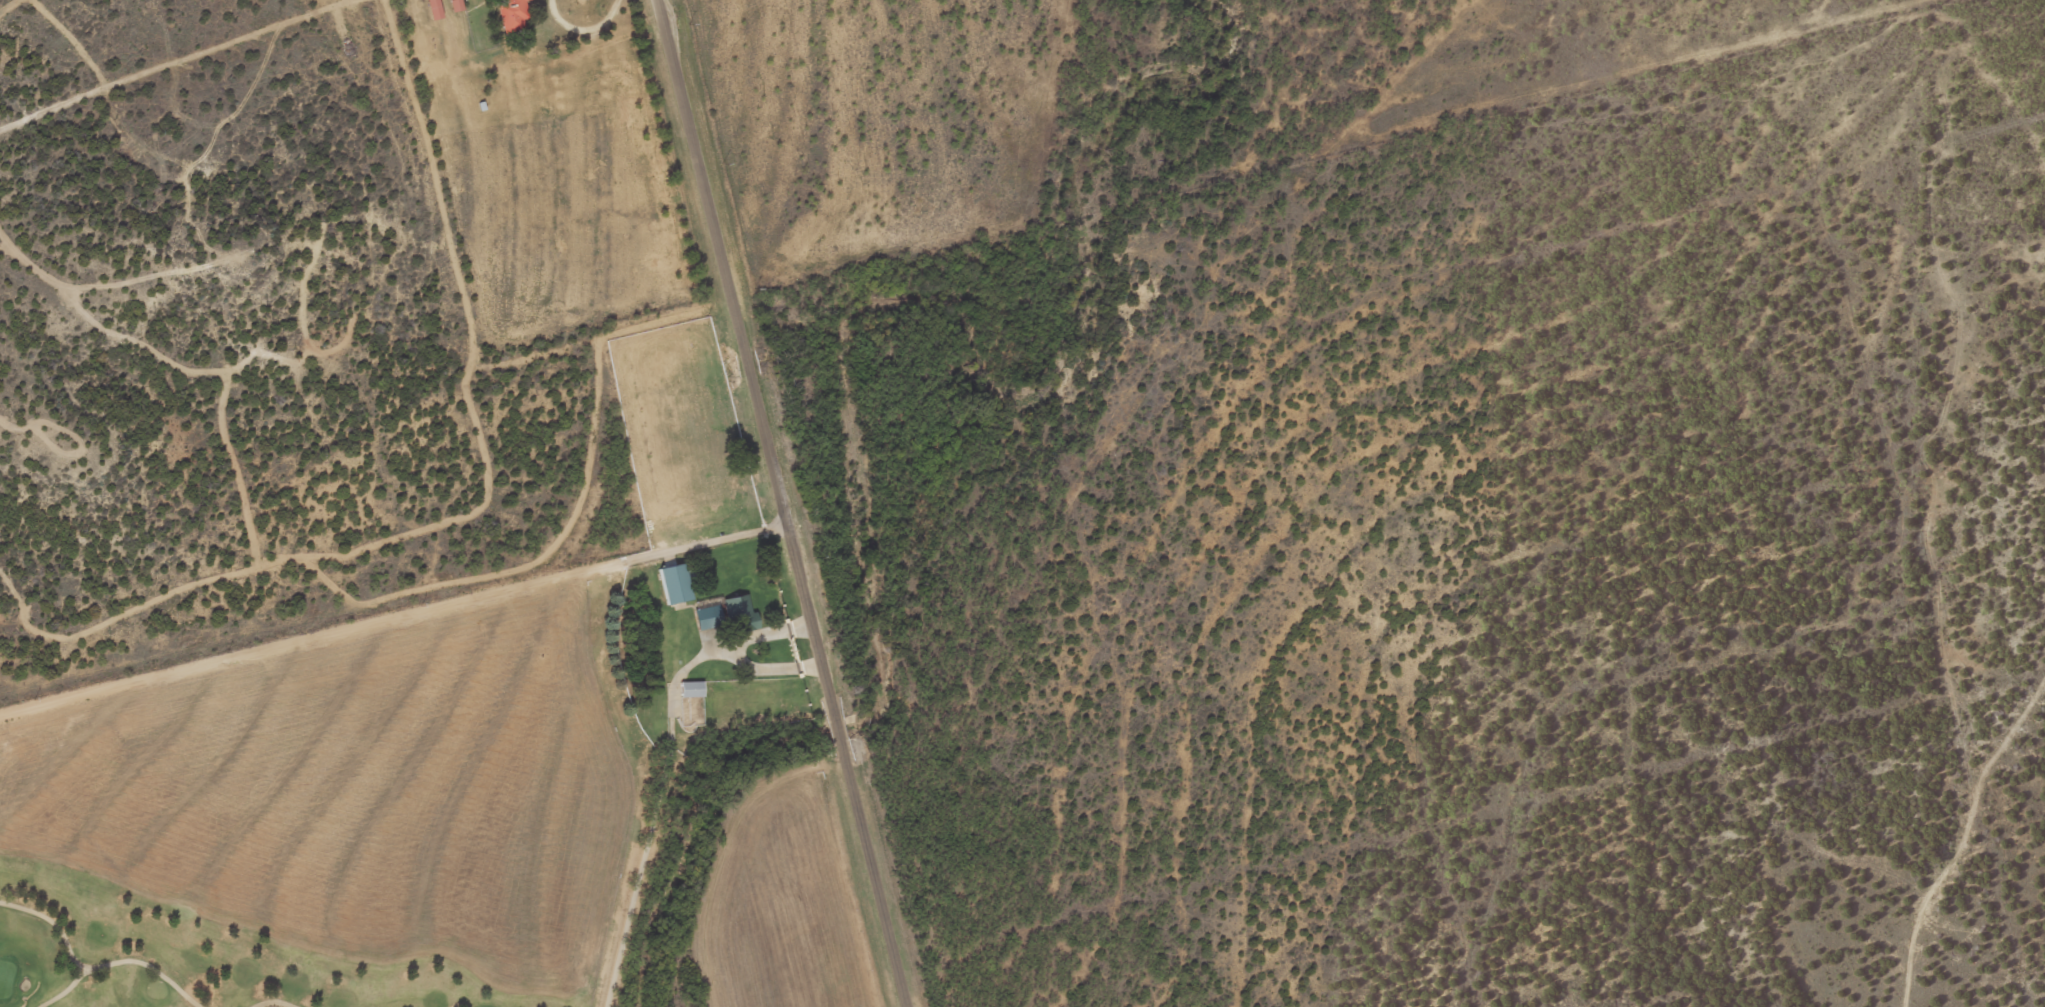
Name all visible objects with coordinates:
building: (460, 5)
building: (438, 9)
building: (516, 14)
road: (790, 503)
building: (679, 583)
building: (743, 613)
building: (695, 688)

